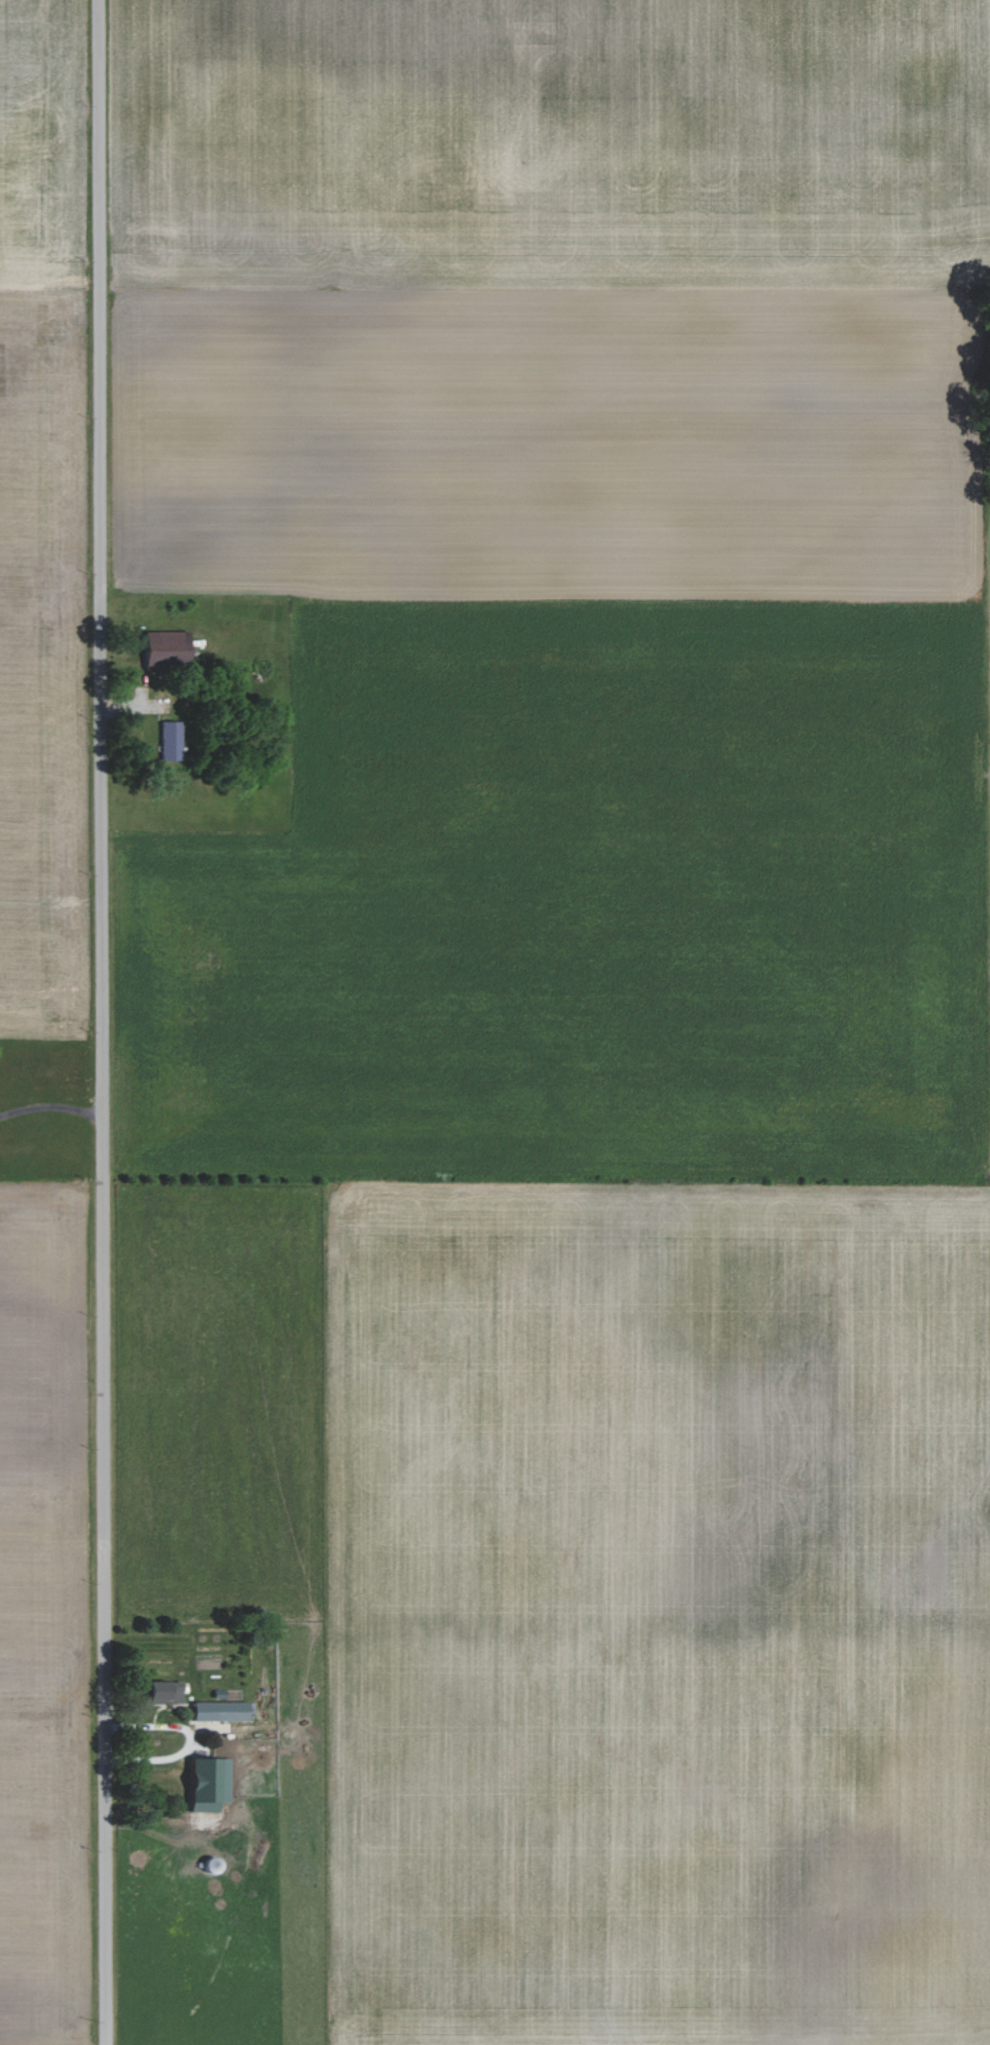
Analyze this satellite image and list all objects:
building: (160, 647)
building: (166, 740)
road: (101, 1022)
road: (54, 1106)
building: (160, 1692)
building: (215, 1711)
building: (204, 1783)

